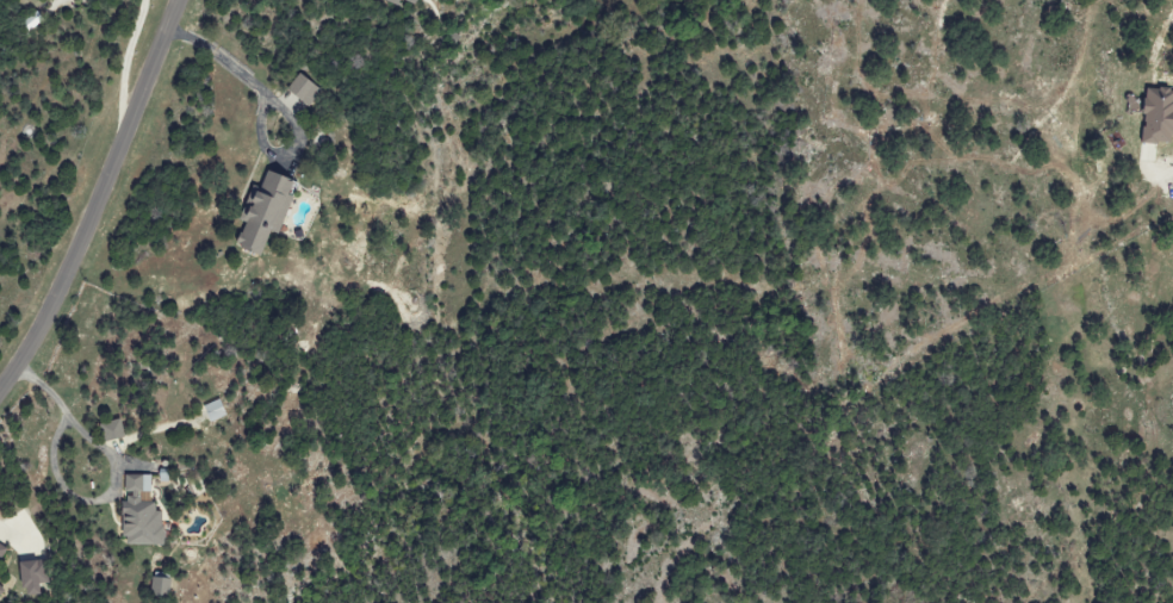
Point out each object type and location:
building: (410, 2)
road: (123, 61)
road: (234, 61)
building: (303, 89)
building: (1159, 118)
road: (93, 197)
building: (266, 212)
building: (1171, 248)
building: (216, 411)
building: (114, 431)
road: (116, 471)
building: (142, 514)
building: (33, 577)
building: (160, 588)

